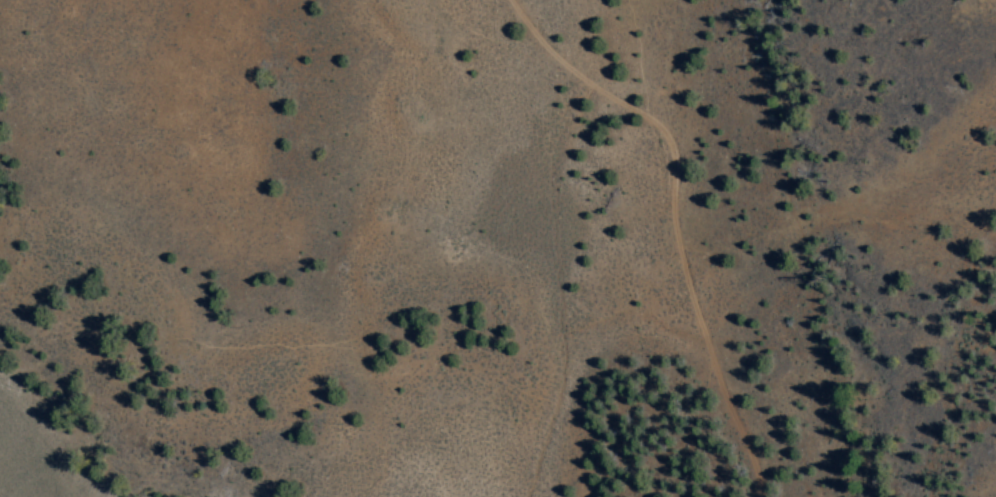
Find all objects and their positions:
road: (675, 215)

